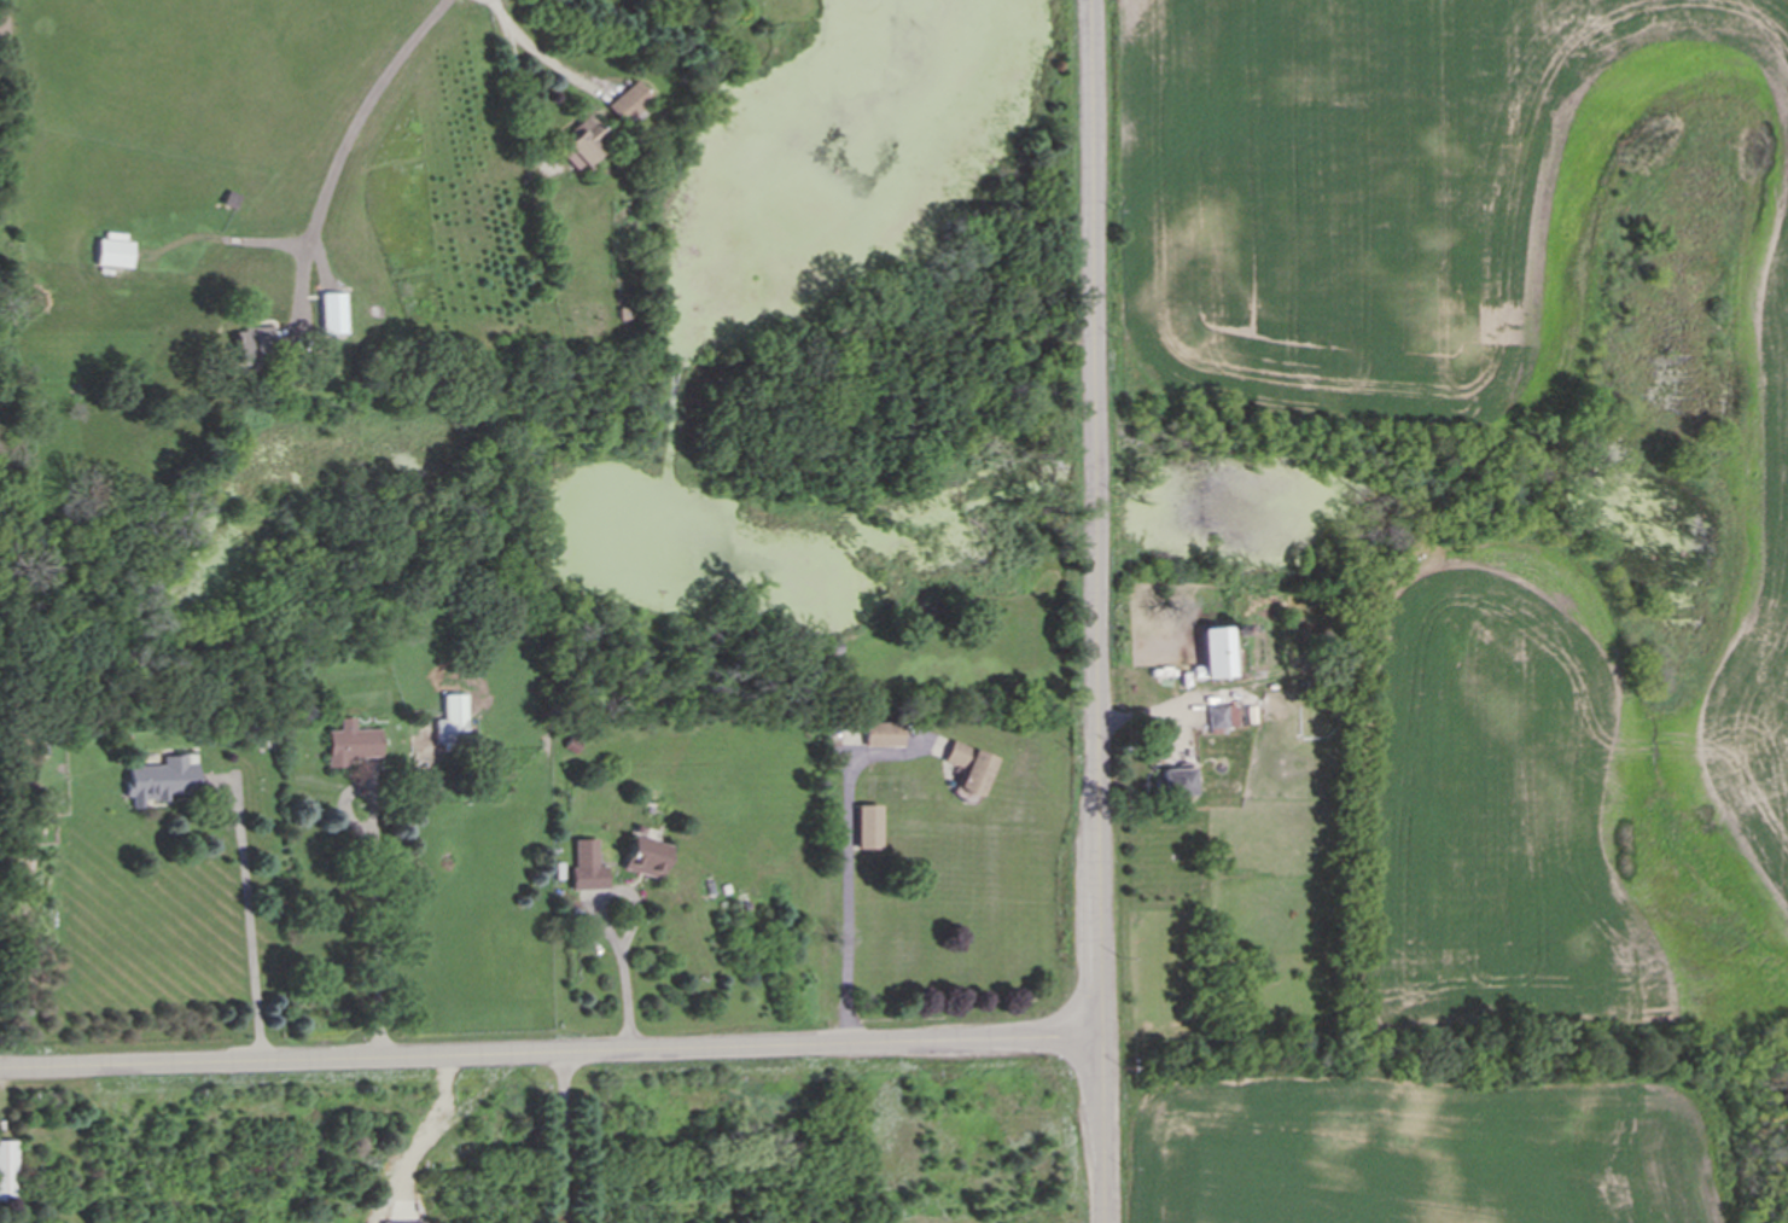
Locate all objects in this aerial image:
road: (542, 49)
building: (629, 101)
road: (344, 141)
building: (583, 142)
building: (116, 250)
building: (332, 313)
building: (254, 346)
road: (1094, 611)
building: (1215, 654)
building: (454, 721)
building: (885, 734)
building: (353, 744)
building: (972, 768)
building: (163, 780)
building: (1176, 782)
building: (869, 827)
building: (645, 854)
building: (589, 867)
road: (854, 868)
road: (374, 878)
road: (608, 926)
road: (251, 928)
road: (549, 1050)
road: (563, 1136)
building: (8, 1171)

